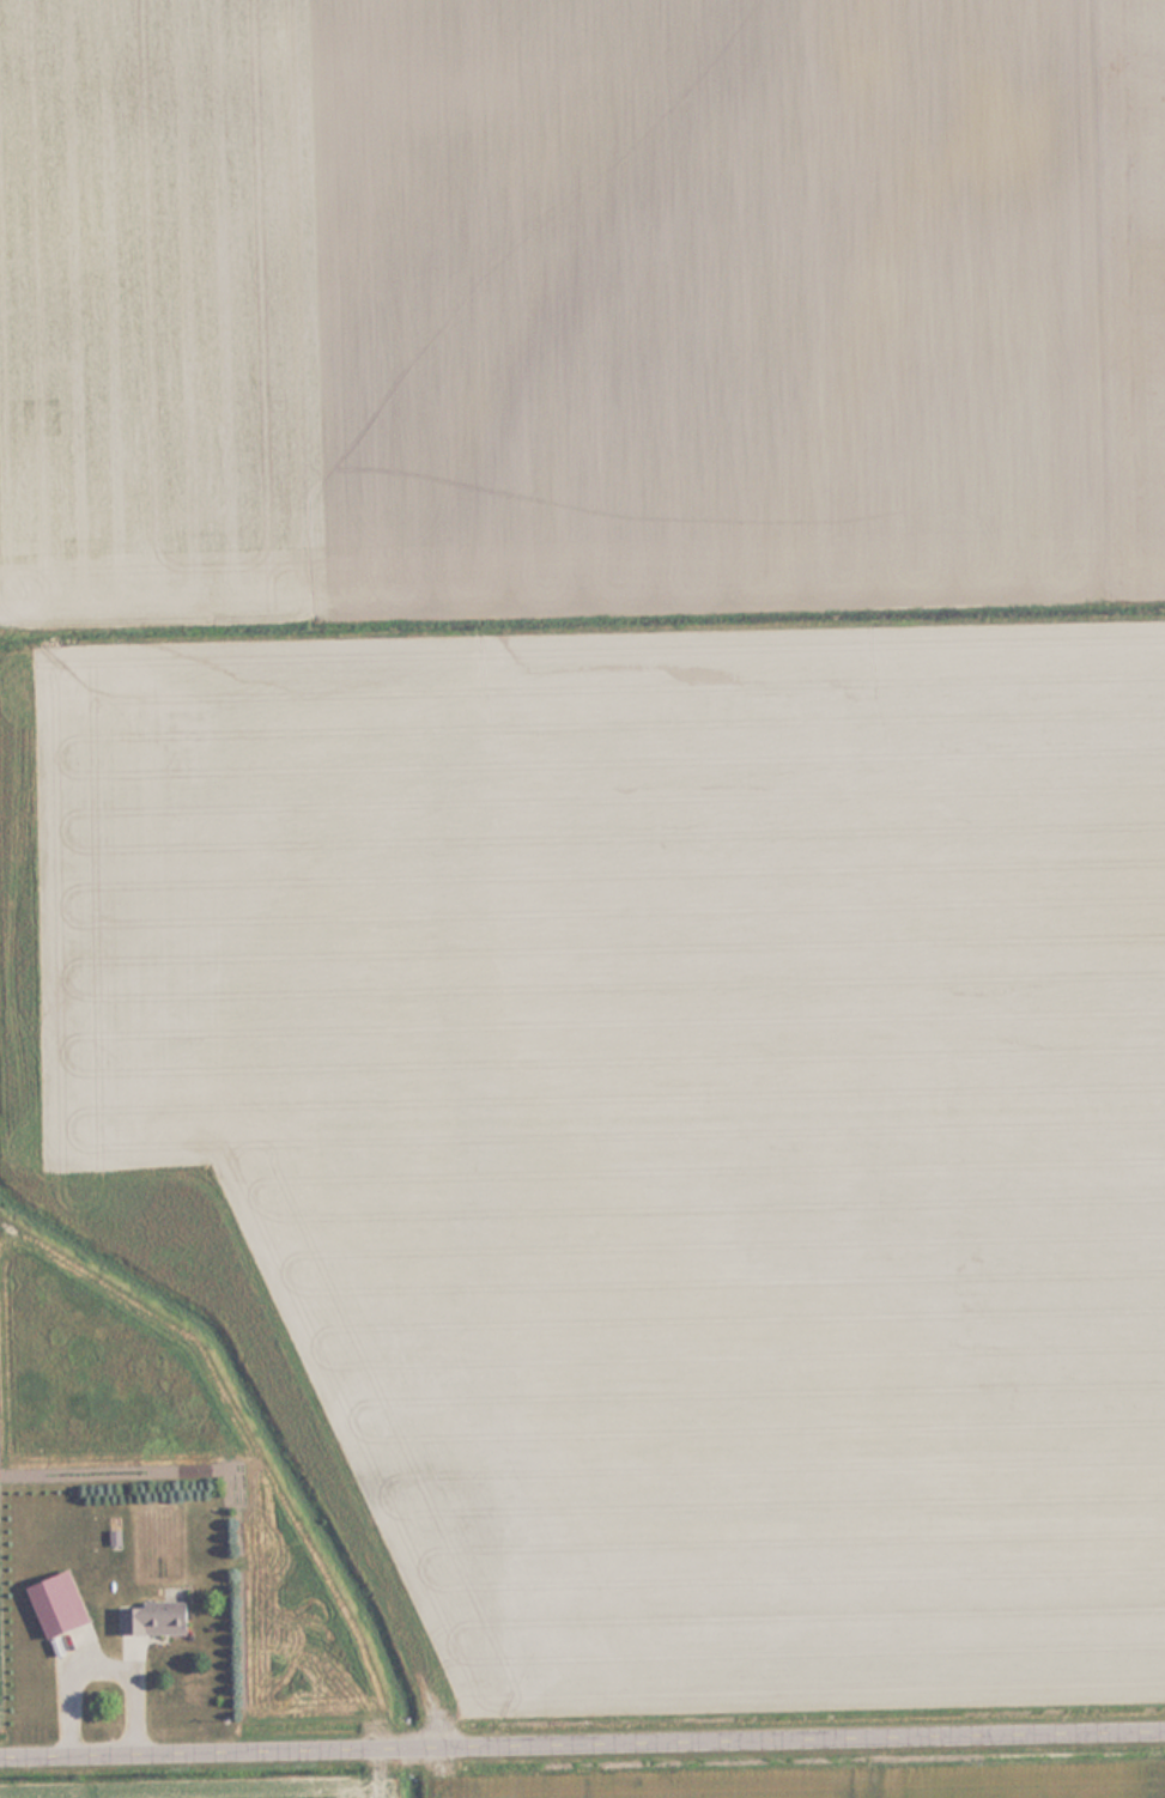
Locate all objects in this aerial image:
building: (423, 1512)
building: (63, 1605)
building: (159, 1620)
road: (582, 1748)

